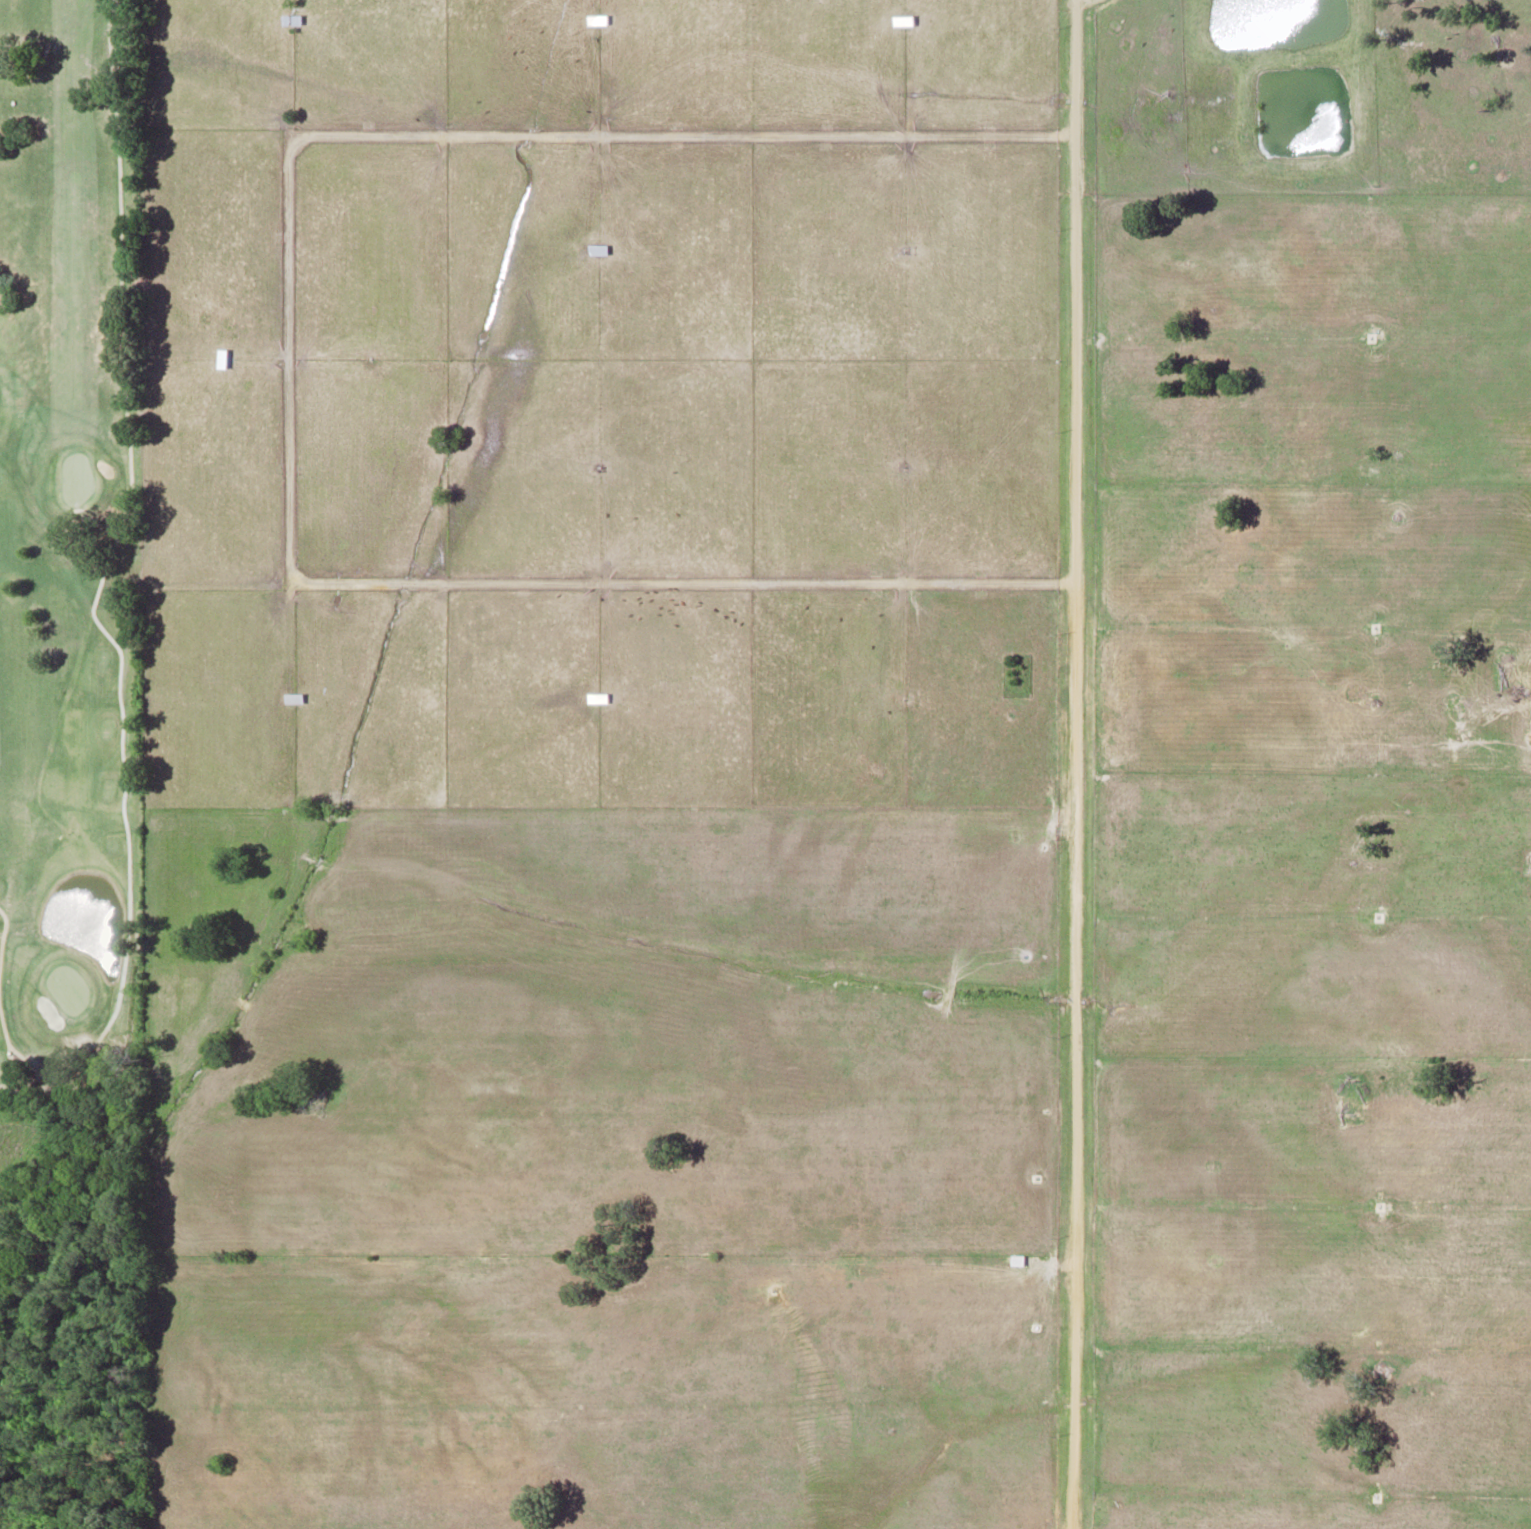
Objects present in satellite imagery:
building: (291, 18)
building: (596, 18)
building: (902, 19)
building: (596, 248)
building: (903, 249)
building: (221, 357)
building: (367, 357)
road: (287, 359)
building: (597, 466)
building: (902, 466)
park: (67, 555)
building: (292, 697)
building: (597, 697)
road: (1073, 764)
building: (1016, 1259)

